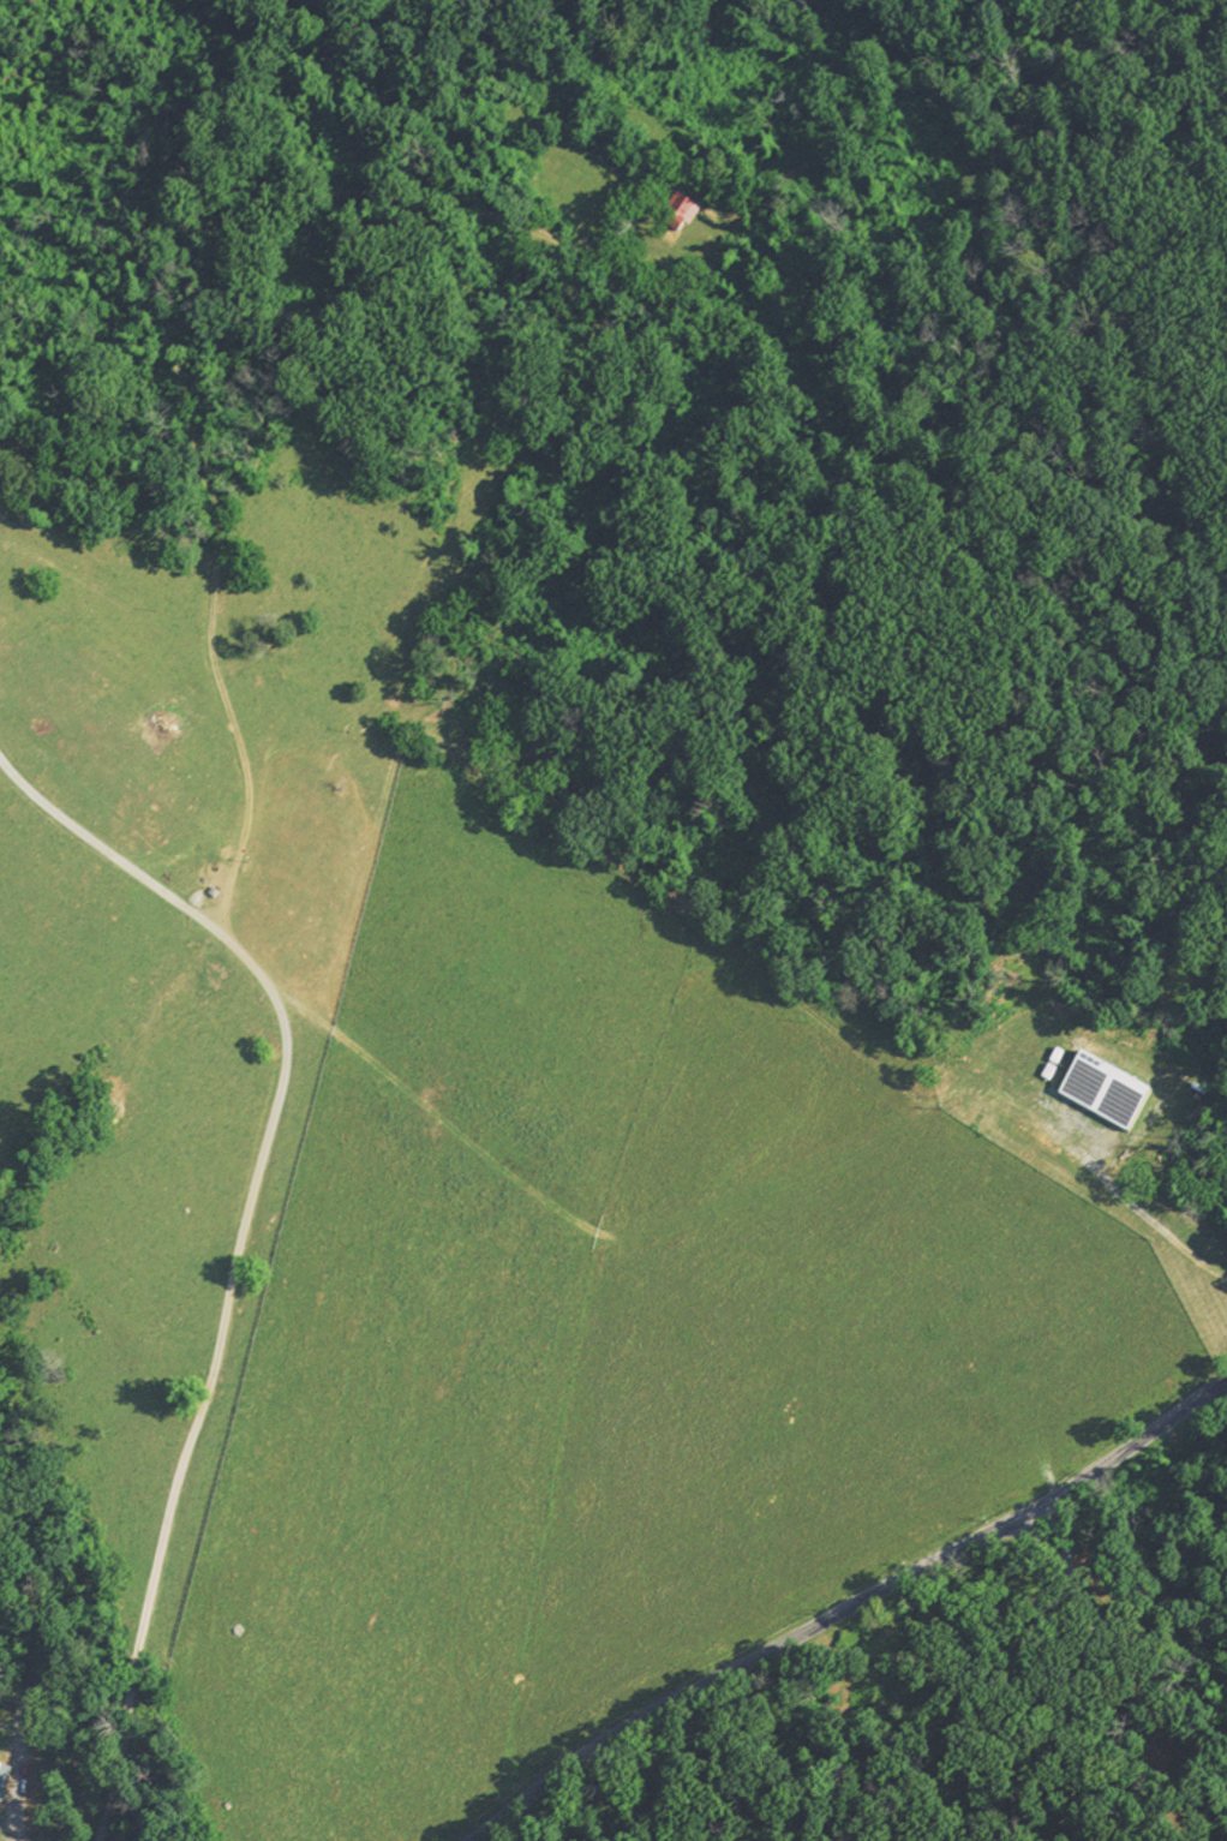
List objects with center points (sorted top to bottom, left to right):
road: (235, 742)
road: (388, 807)
road: (198, 1417)
road: (849, 1608)
road: (1105, 1673)

